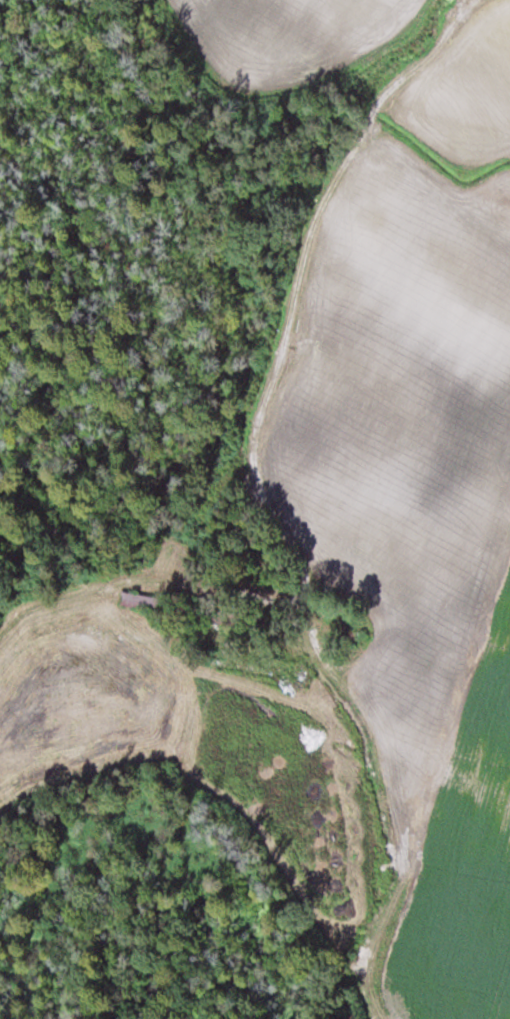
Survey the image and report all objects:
road: (256, 432)
building: (281, 665)

